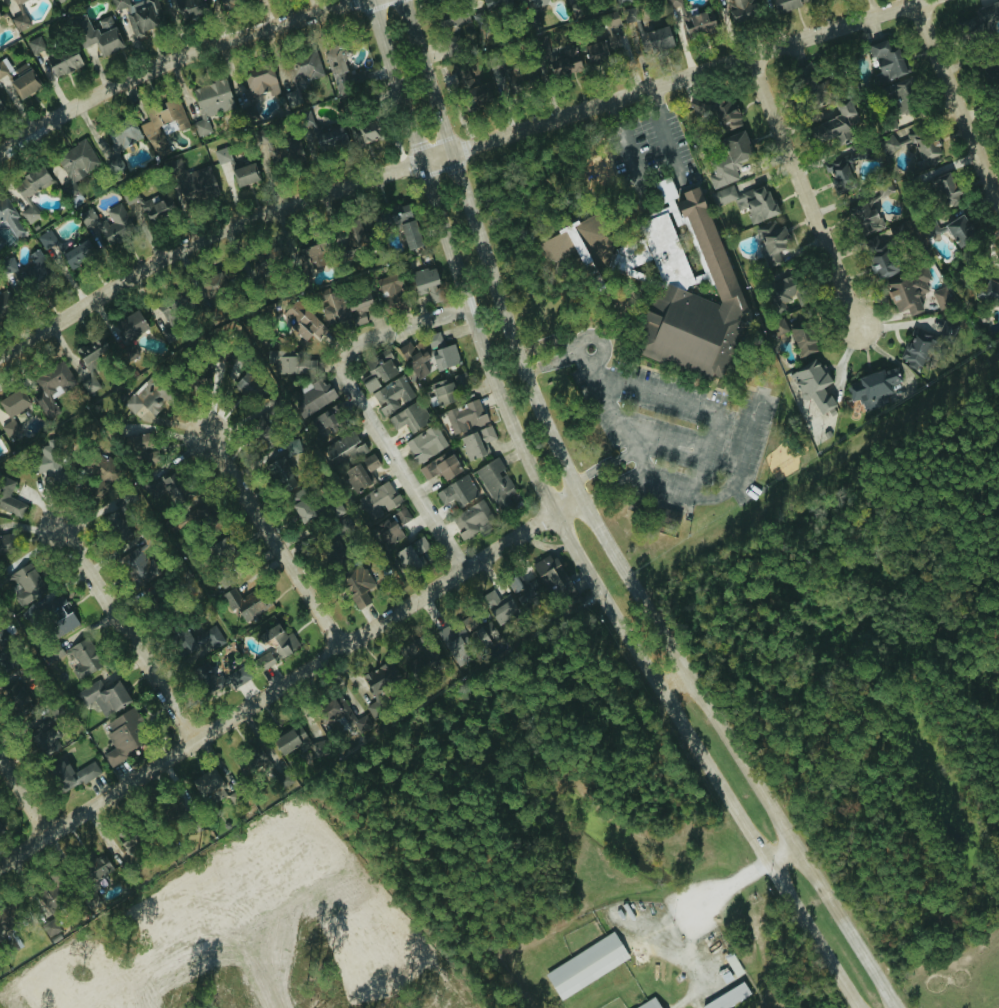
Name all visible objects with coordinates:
building: (162, 0)
building: (219, 0)
building: (15, 1)
building: (59, 1)
building: (621, 1)
building: (528, 2)
building: (494, 3)
building: (784, 5)
building: (186, 7)
building: (742, 10)
building: (986, 14)
building: (136, 16)
building: (456, 18)
building: (692, 19)
building: (611, 20)
building: (19, 22)
building: (96, 34)
building: (647, 37)
building: (34, 45)
building: (616, 45)
building: (452, 47)
building: (594, 52)
building: (63, 61)
road: (167, 61)
building: (559, 61)
building: (886, 62)
building: (340, 67)
building: (514, 74)
building: (19, 78)
building: (259, 83)
building: (898, 97)
building: (292, 98)
road: (961, 99)
building: (210, 102)
building: (0, 110)
building: (717, 112)
building: (835, 125)
building: (366, 132)
road: (664, 135)
road: (624, 144)
building: (888, 144)
building: (926, 149)
building: (280, 150)
road: (453, 150)
building: (728, 159)
building: (76, 161)
building: (840, 170)
building: (238, 171)
building: (30, 182)
building: (195, 183)
building: (942, 189)
road: (813, 198)
building: (748, 201)
building: (867, 207)
building: (147, 208)
building: (29, 214)
building: (9, 216)
building: (107, 223)
building: (404, 224)
building: (959, 231)
building: (897, 232)
building: (45, 240)
building: (771, 241)
building: (0, 242)
building: (875, 252)
building: (77, 254)
building: (308, 256)
building: (32, 272)
building: (425, 283)
building: (667, 283)
building: (782, 290)
building: (391, 291)
building: (907, 291)
building: (988, 293)
building: (941, 298)
building: (4, 302)
building: (172, 305)
building: (344, 308)
building: (302, 322)
building: (126, 328)
building: (797, 336)
building: (434, 340)
building: (915, 349)
building: (445, 356)
building: (412, 360)
building: (292, 363)
building: (86, 365)
building: (219, 365)
building: (377, 370)
building: (812, 386)
building: (51, 387)
building: (872, 388)
building: (443, 392)
building: (313, 396)
building: (390, 396)
building: (147, 398)
building: (11, 404)
road: (358, 405)
building: (331, 416)
building: (409, 417)
building: (463, 417)
building: (9, 429)
road: (711, 431)
building: (476, 442)
building: (425, 444)
building: (351, 462)
building: (48, 464)
building: (440, 467)
road: (610, 474)
building: (105, 478)
building: (495, 481)
building: (456, 491)
building: (9, 498)
building: (378, 500)
building: (301, 510)
building: (116, 526)
road: (600, 527)
building: (391, 528)
road: (562, 528)
road: (273, 540)
building: (413, 555)
building: (137, 567)
building: (550, 575)
building: (23, 582)
building: (356, 585)
building: (520, 592)
building: (244, 604)
building: (502, 608)
building: (53, 616)
building: (469, 623)
road: (128, 634)
building: (484, 635)
building: (278, 642)
building: (453, 642)
building: (201, 644)
building: (80, 659)
building: (263, 662)
building: (418, 665)
building: (235, 678)
road: (290, 678)
building: (380, 678)
building: (211, 680)
road: (670, 681)
building: (103, 696)
building: (18, 700)
building: (331, 711)
building: (123, 735)
building: (46, 739)
building: (289, 740)
building: (316, 749)
building: (251, 759)
building: (70, 774)
building: (208, 786)
road: (24, 795)
road: (780, 854)
building: (97, 866)
road: (728, 887)
building: (90, 901)
building: (48, 923)
building: (585, 966)
crop: (965, 978)
building: (728, 997)
building: (649, 1004)

